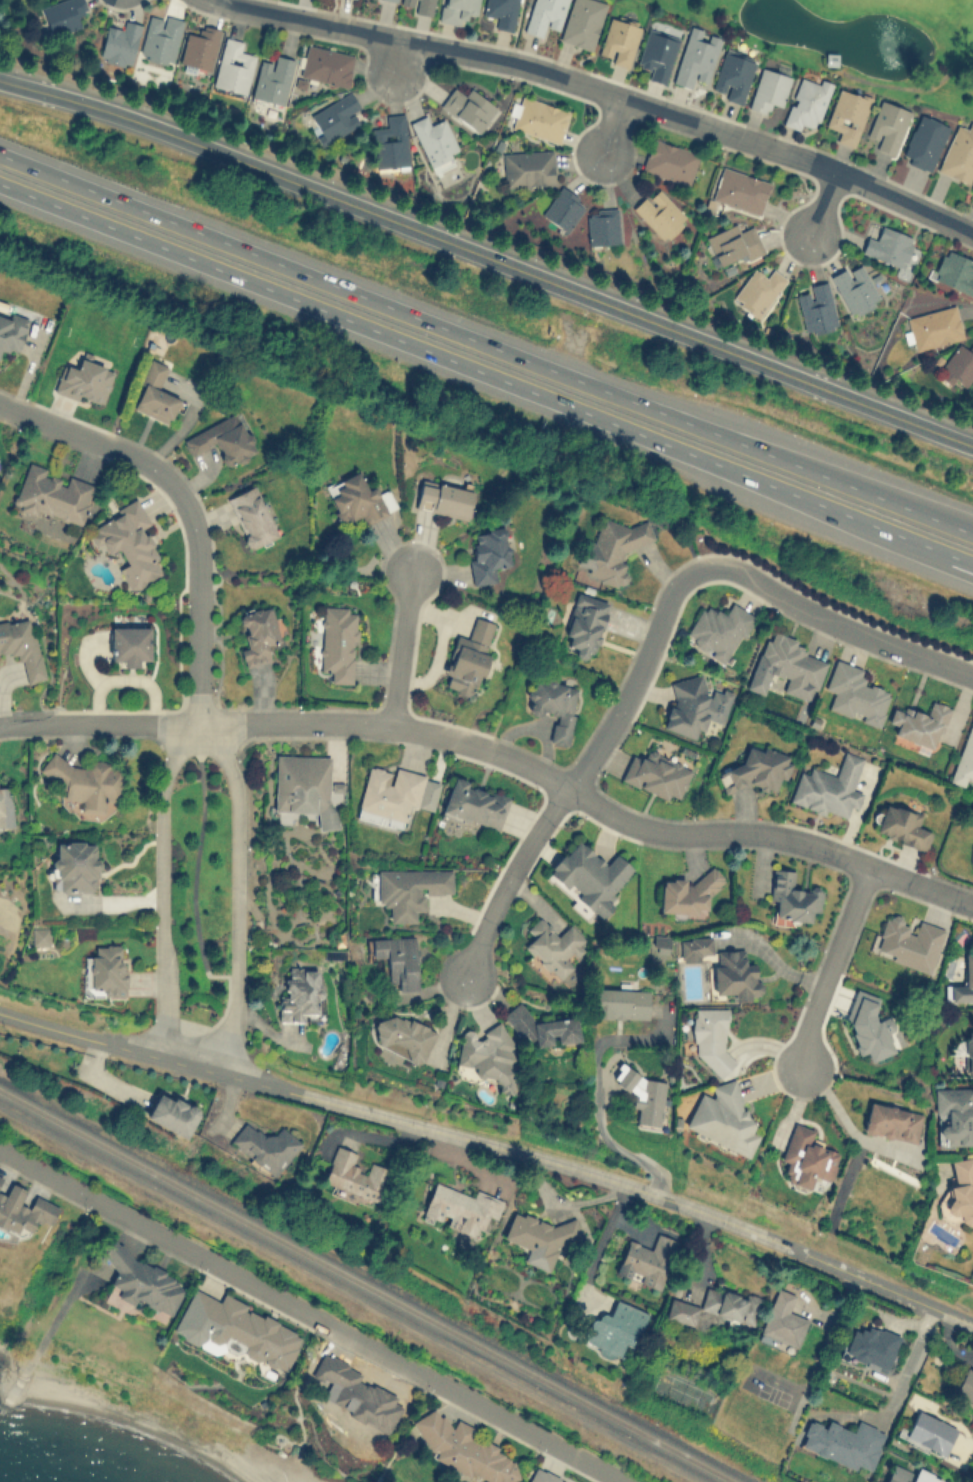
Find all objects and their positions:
building: (392, 0)
building: (417, 5)
building: (456, 10)
building: (501, 12)
building: (62, 14)
building: (544, 16)
road: (307, 20)
building: (582, 22)
building: (160, 38)
building: (618, 41)
park: (858, 41)
building: (119, 43)
building: (198, 47)
road: (447, 48)
building: (657, 53)
road: (397, 55)
building: (830, 58)
building: (695, 60)
building: (326, 65)
building: (233, 66)
building: (732, 76)
building: (272, 79)
building: (768, 89)
building: (806, 102)
building: (468, 107)
building: (847, 115)
building: (335, 117)
building: (538, 118)
road: (610, 125)
building: (887, 125)
road: (736, 135)
building: (434, 138)
building: (390, 142)
building: (923, 142)
building: (958, 154)
building: (669, 161)
building: (527, 168)
building: (739, 189)
road: (825, 201)
building: (562, 207)
building: (659, 213)
building: (602, 226)
building: (733, 243)
building: (888, 246)
road: (488, 257)
road: (200, 265)
building: (954, 271)
building: (854, 288)
building: (758, 289)
building: (816, 308)
building: (934, 327)
building: (11, 331)
road: (486, 341)
building: (959, 364)
building: (84, 381)
building: (155, 394)
building: (221, 439)
road: (99, 440)
road: (676, 451)
building: (52, 494)
building: (444, 498)
building: (358, 499)
building: (251, 516)
building: (129, 544)
building: (611, 549)
building: (487, 553)
road: (962, 561)
road: (199, 609)
road: (837, 622)
building: (584, 624)
building: (718, 630)
building: (258, 634)
building: (129, 643)
building: (338, 643)
building: (22, 645)
road: (401, 652)
building: (468, 657)
building: (786, 666)
road: (639, 680)
building: (855, 693)
building: (553, 705)
building: (693, 705)
road: (99, 721)
building: (919, 723)
building: (965, 757)
building: (757, 769)
building: (657, 772)
building: (84, 781)
building: (336, 786)
building: (303, 787)
building: (829, 787)
building: (395, 793)
road: (588, 799)
building: (475, 803)
building: (5, 804)
building: (902, 826)
building: (971, 853)
road: (196, 863)
building: (76, 865)
building: (589, 876)
road: (507, 877)
road: (162, 883)
building: (409, 889)
road: (237, 893)
building: (686, 893)
building: (792, 896)
building: (39, 936)
building: (909, 942)
building: (553, 947)
building: (694, 947)
building: (397, 959)
road: (772, 960)
road: (832, 965)
building: (968, 967)
building: (105, 971)
building: (734, 974)
building: (299, 994)
building: (621, 1003)
building: (868, 1026)
building: (541, 1027)
building: (402, 1037)
building: (710, 1037)
building: (968, 1051)
building: (489, 1055)
road: (595, 1088)
building: (643, 1094)
building: (171, 1112)
building: (954, 1116)
building: (722, 1117)
building: (891, 1122)
road: (847, 1124)
road: (366, 1136)
building: (265, 1146)
road: (492, 1147)
building: (805, 1156)
building: (356, 1174)
building: (0, 1176)
building: (960, 1192)
building: (461, 1207)
building: (23, 1209)
building: (539, 1237)
road: (598, 1246)
building: (647, 1260)
building: (137, 1278)
railway: (368, 1285)
building: (729, 1303)
building: (681, 1310)
road: (312, 1314)
building: (783, 1319)
building: (616, 1326)
building: (237, 1329)
building: (871, 1346)
building: (965, 1384)
building: (357, 1394)
road: (894, 1396)
building: (929, 1433)
building: (844, 1442)
building: (462, 1448)
building: (910, 1475)
building: (542, 1477)
pier: (377, 1479)

